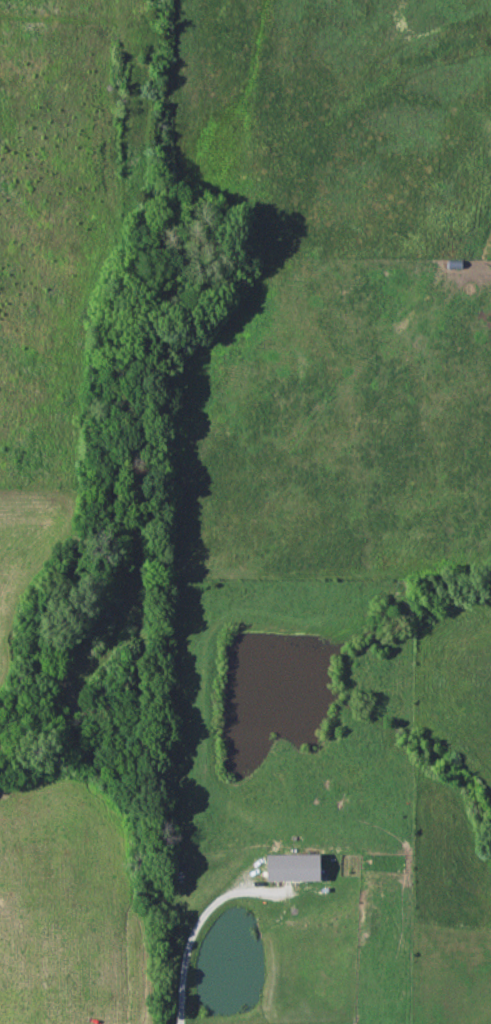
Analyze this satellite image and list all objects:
building: (292, 867)
road: (186, 936)

